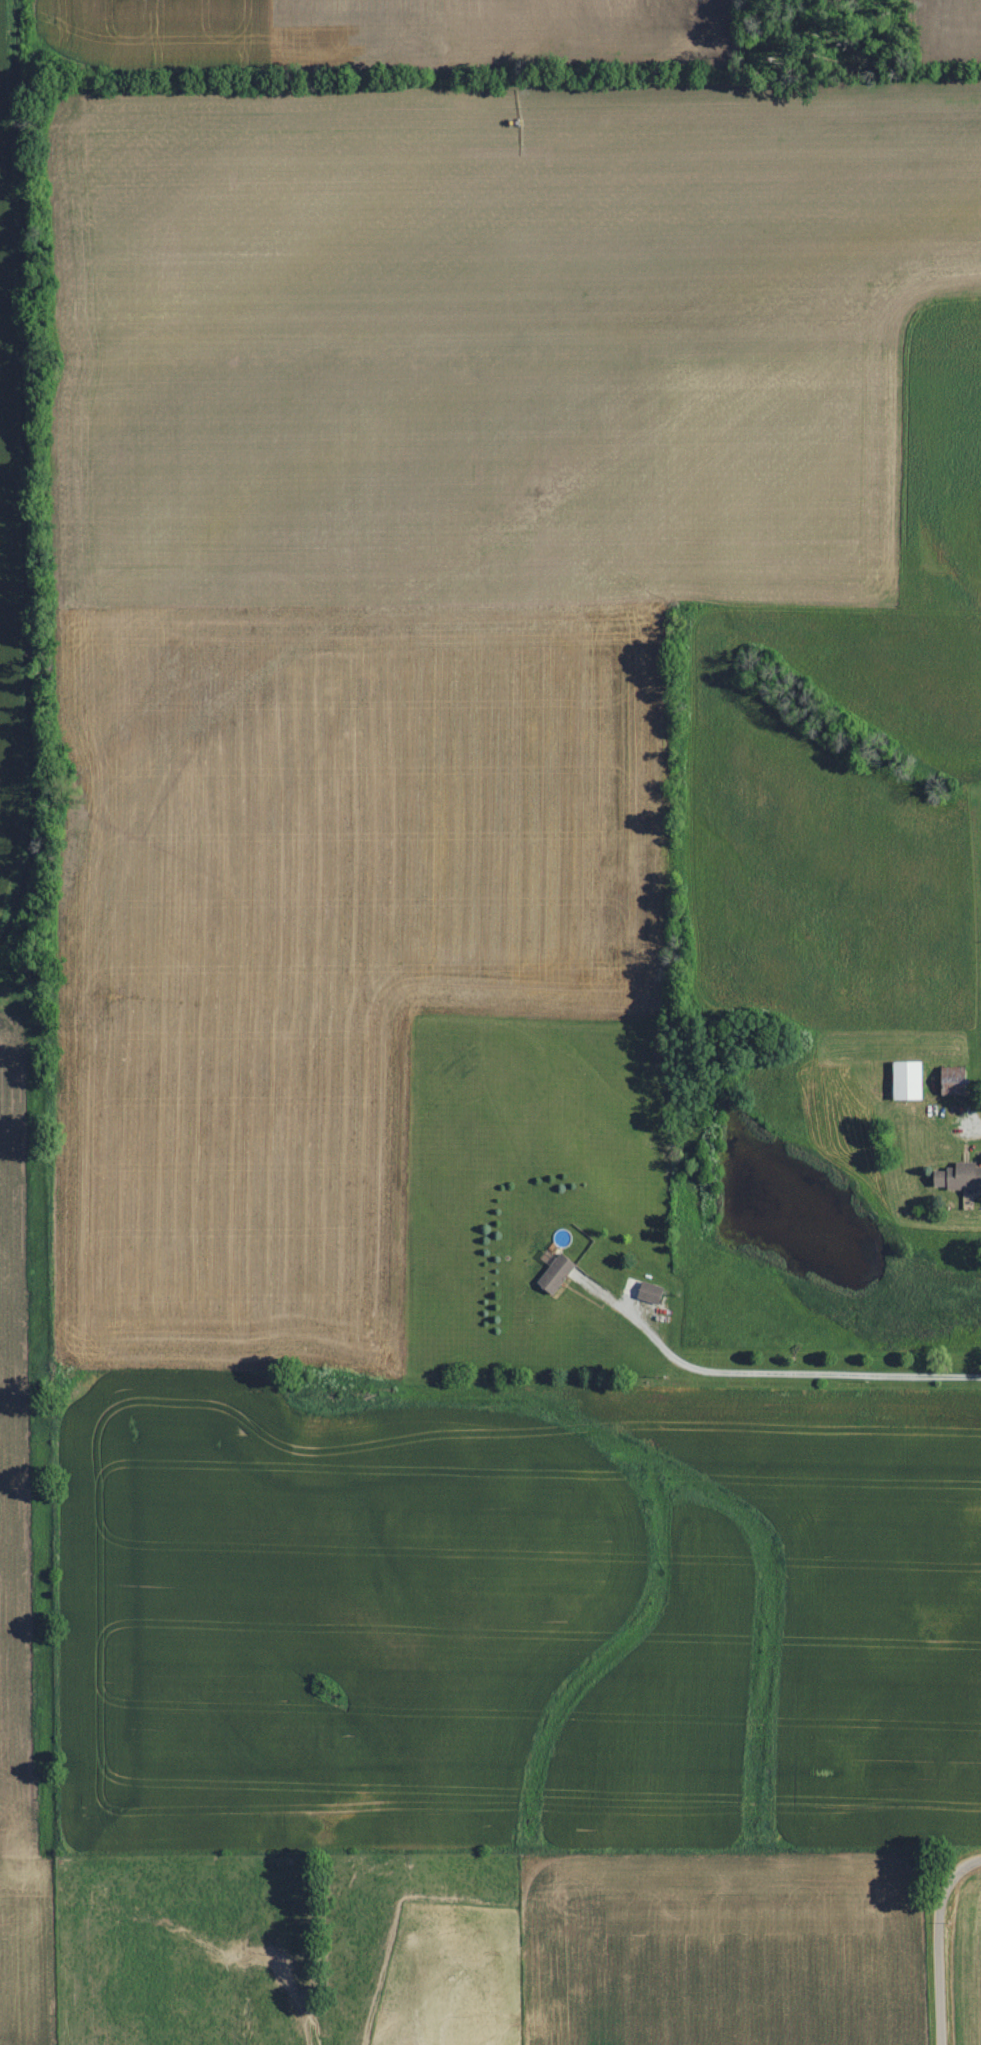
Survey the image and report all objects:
building: (909, 1081)
building: (956, 1081)
road: (974, 1132)
building: (960, 1177)
building: (558, 1274)
building: (651, 1292)
road: (773, 1373)
road: (938, 1941)

